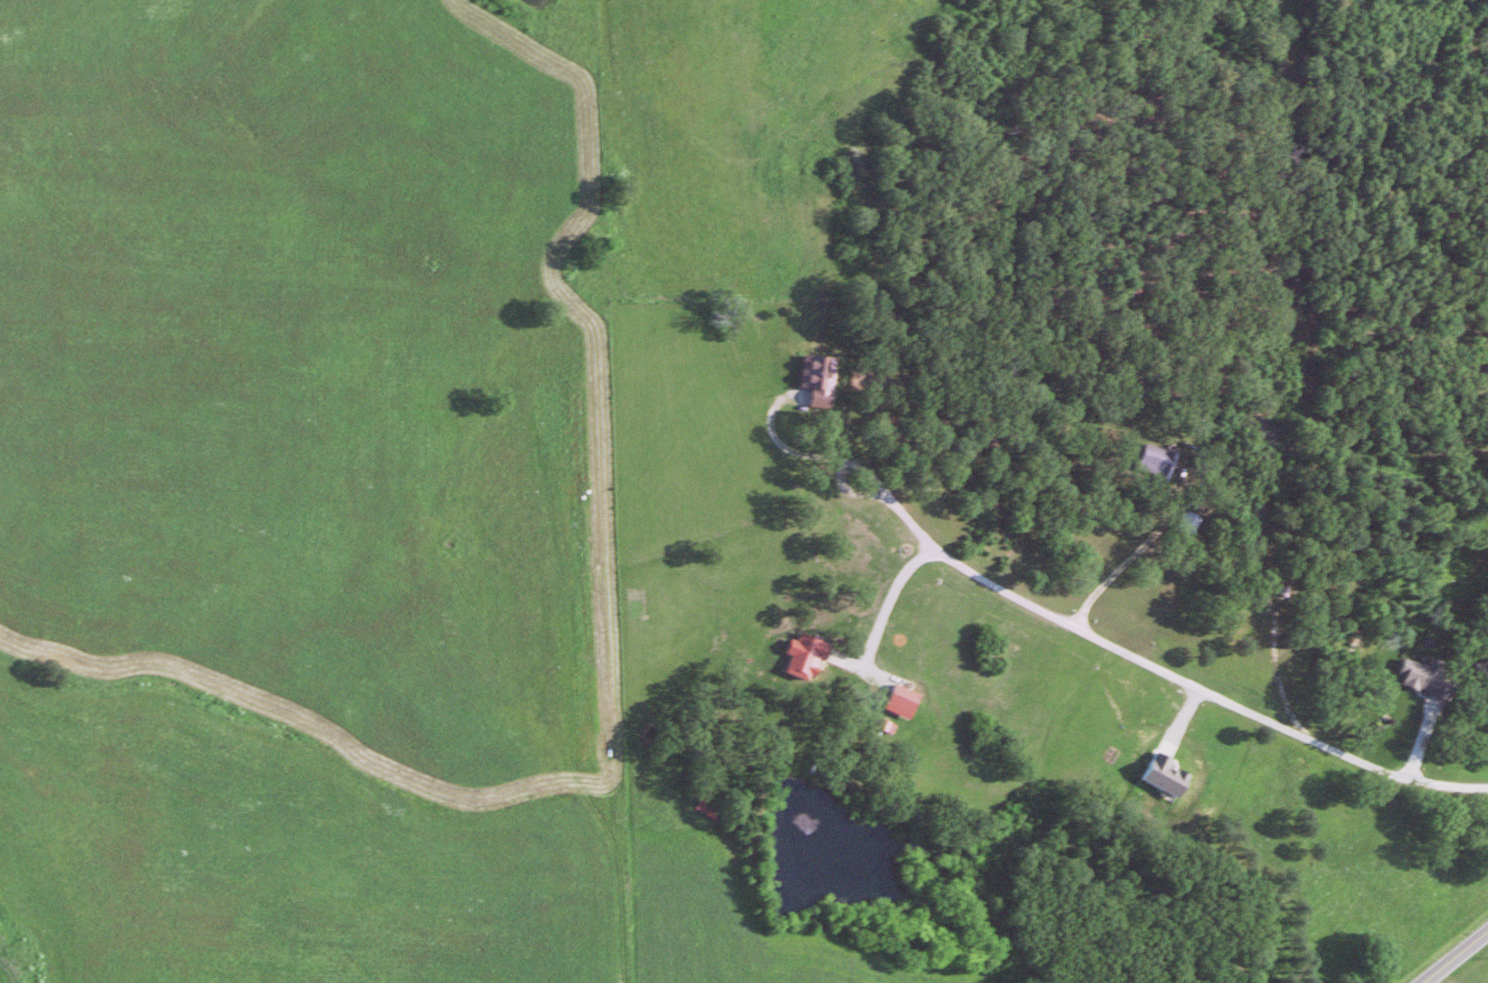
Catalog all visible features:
building: (822, 378)
building: (1161, 460)
building: (809, 655)
building: (1432, 677)
road: (1199, 684)
building: (906, 700)
building: (1170, 775)
building: (713, 808)
road: (1454, 956)

